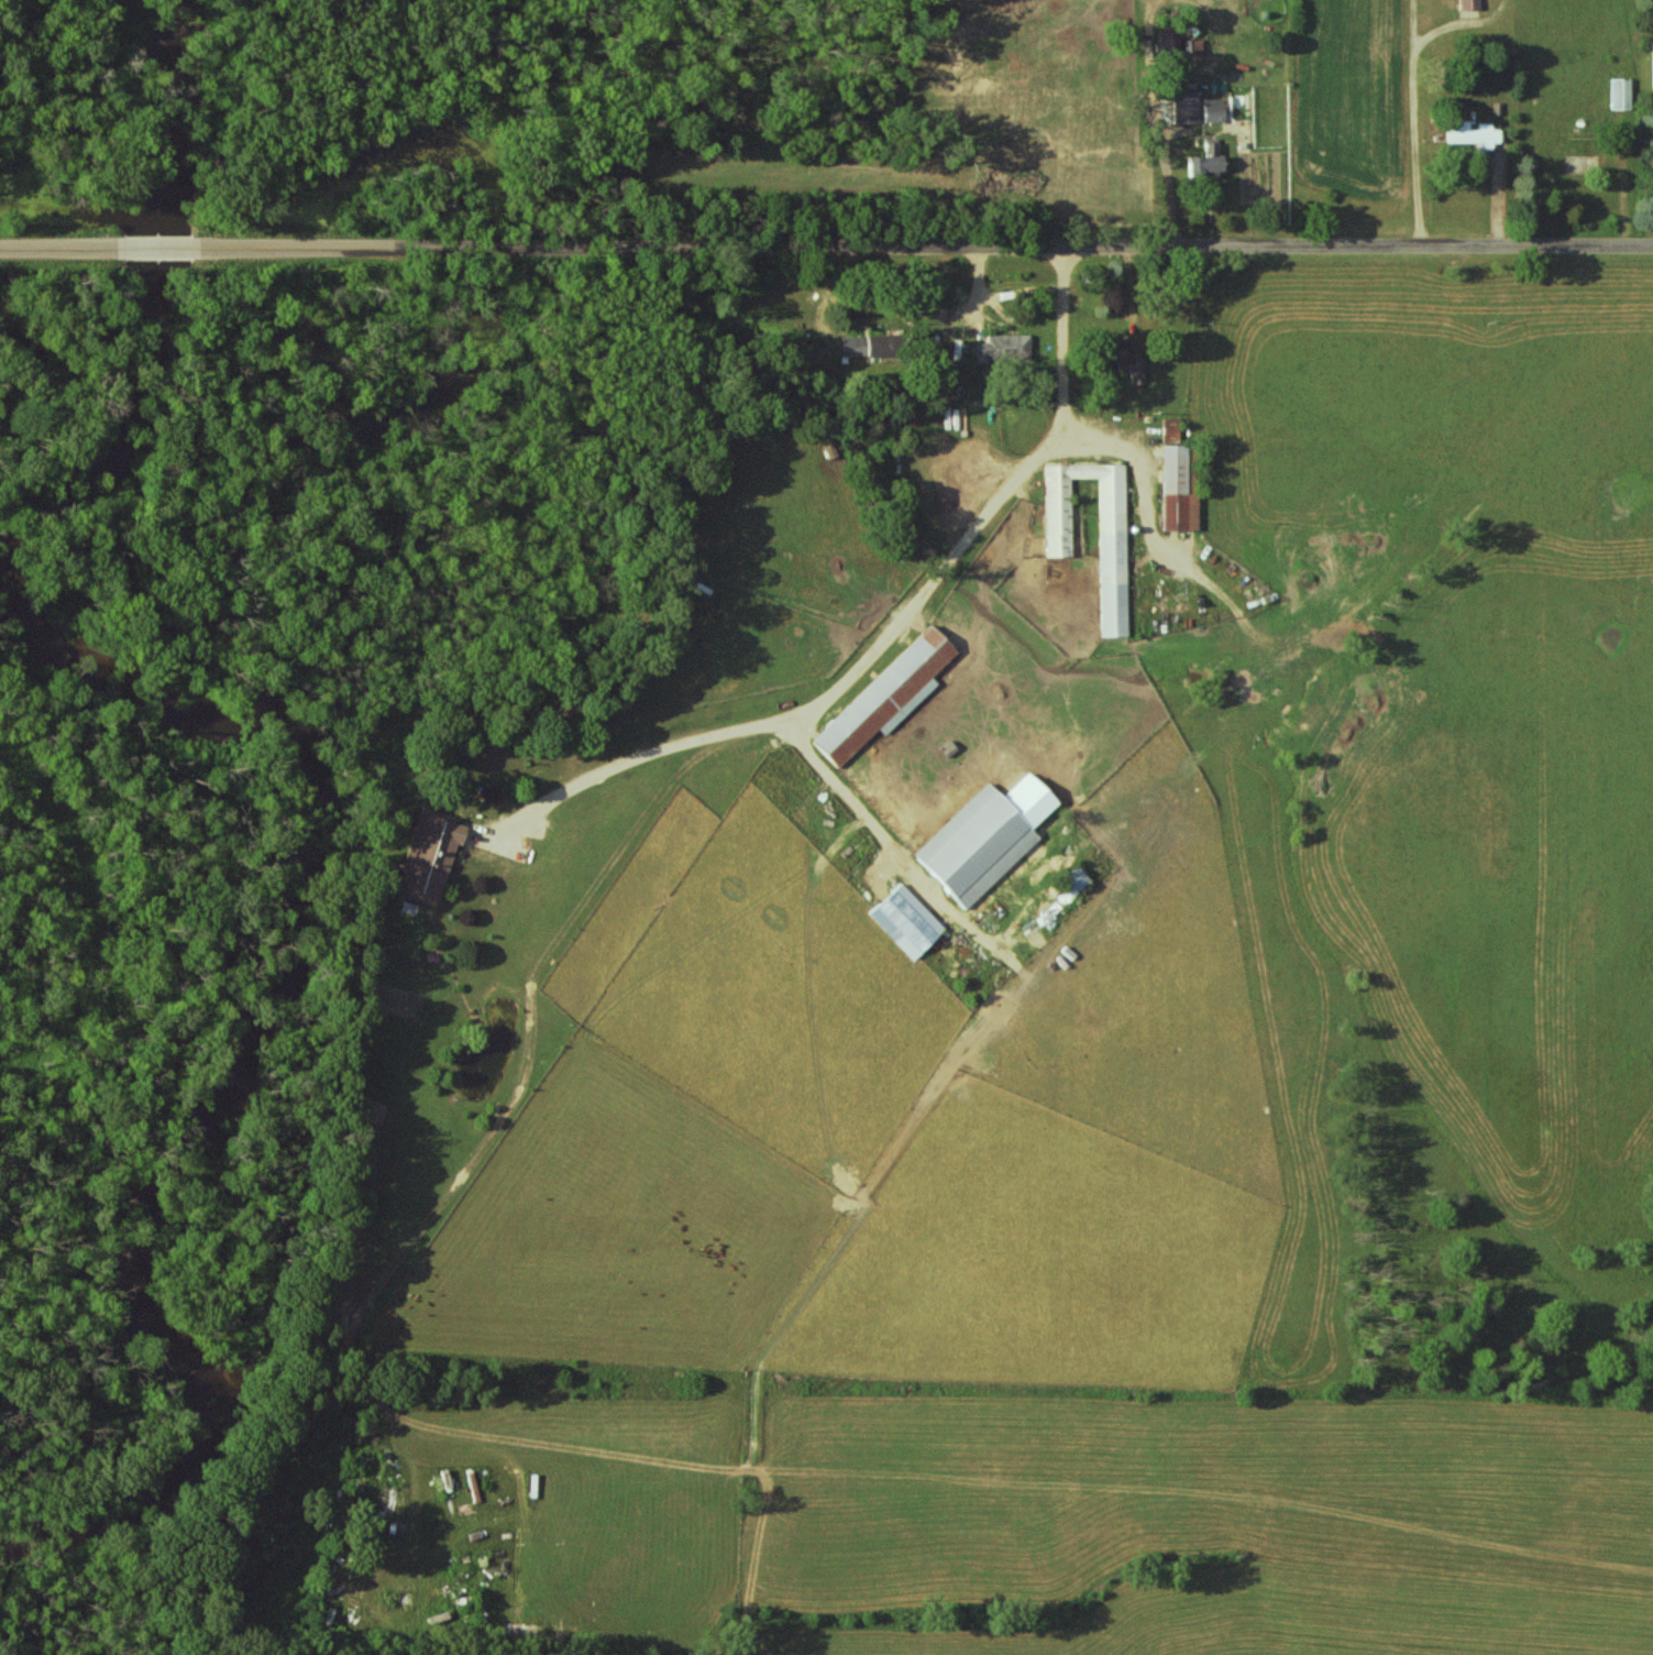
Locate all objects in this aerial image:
building: (1469, 4)
road: (1463, 24)
building: (1193, 46)
building: (1622, 94)
building: (1186, 107)
building: (1213, 110)
road: (1414, 123)
river: (174, 124)
building: (1474, 134)
building: (1205, 161)
road: (926, 246)
road: (58, 250)
road: (159, 251)
building: (869, 346)
building: (1004, 350)
building: (1124, 358)
building: (1171, 430)
road: (1137, 457)
building: (1179, 487)
road: (572, 501)
building: (1112, 517)
road: (885, 636)
building: (916, 668)
road: (870, 823)
building: (983, 839)
building: (427, 856)
river: (296, 865)
building: (1072, 881)
building: (905, 921)

